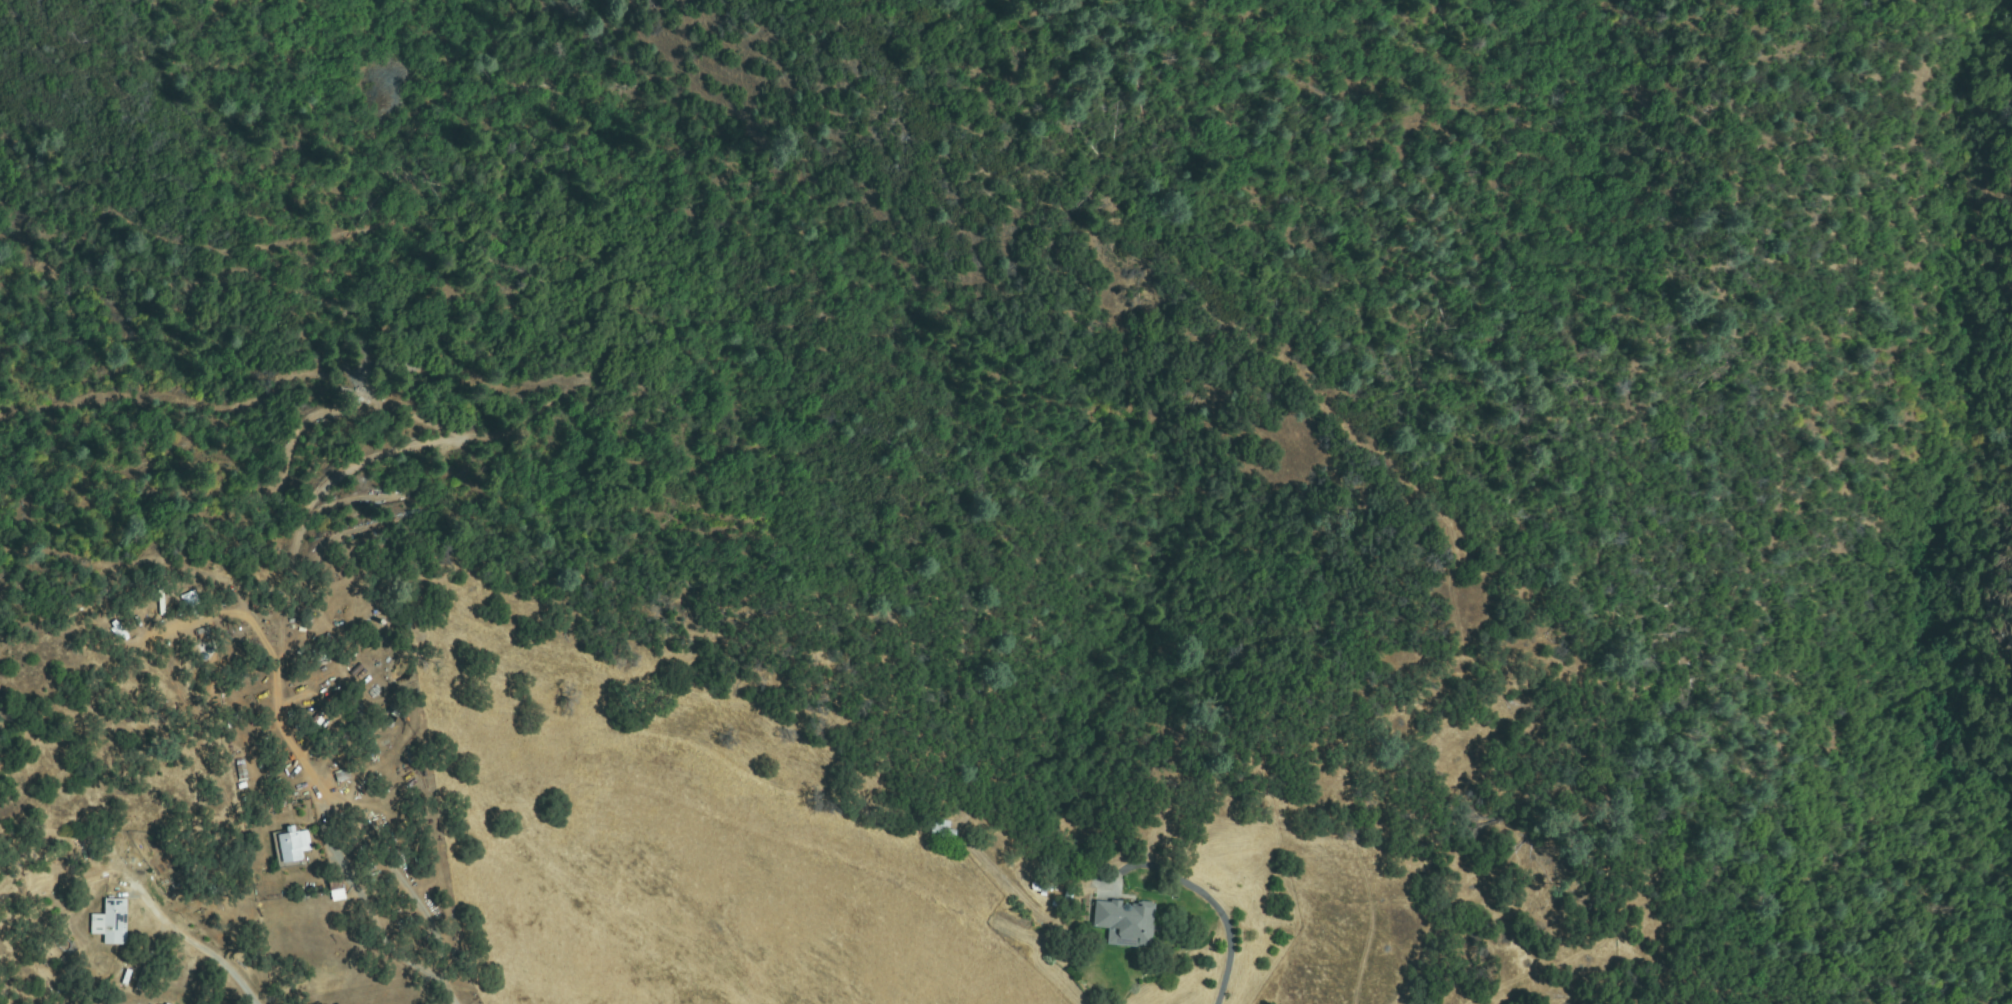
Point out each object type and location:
building: (190, 599)
building: (201, 634)
building: (356, 670)
building: (355, 717)
building: (241, 770)
building: (342, 775)
building: (280, 799)
building: (943, 830)
building: (290, 846)
building: (337, 891)
building: (113, 922)
building: (1125, 923)
road: (340, 962)
road: (213, 963)
building: (159, 1002)

